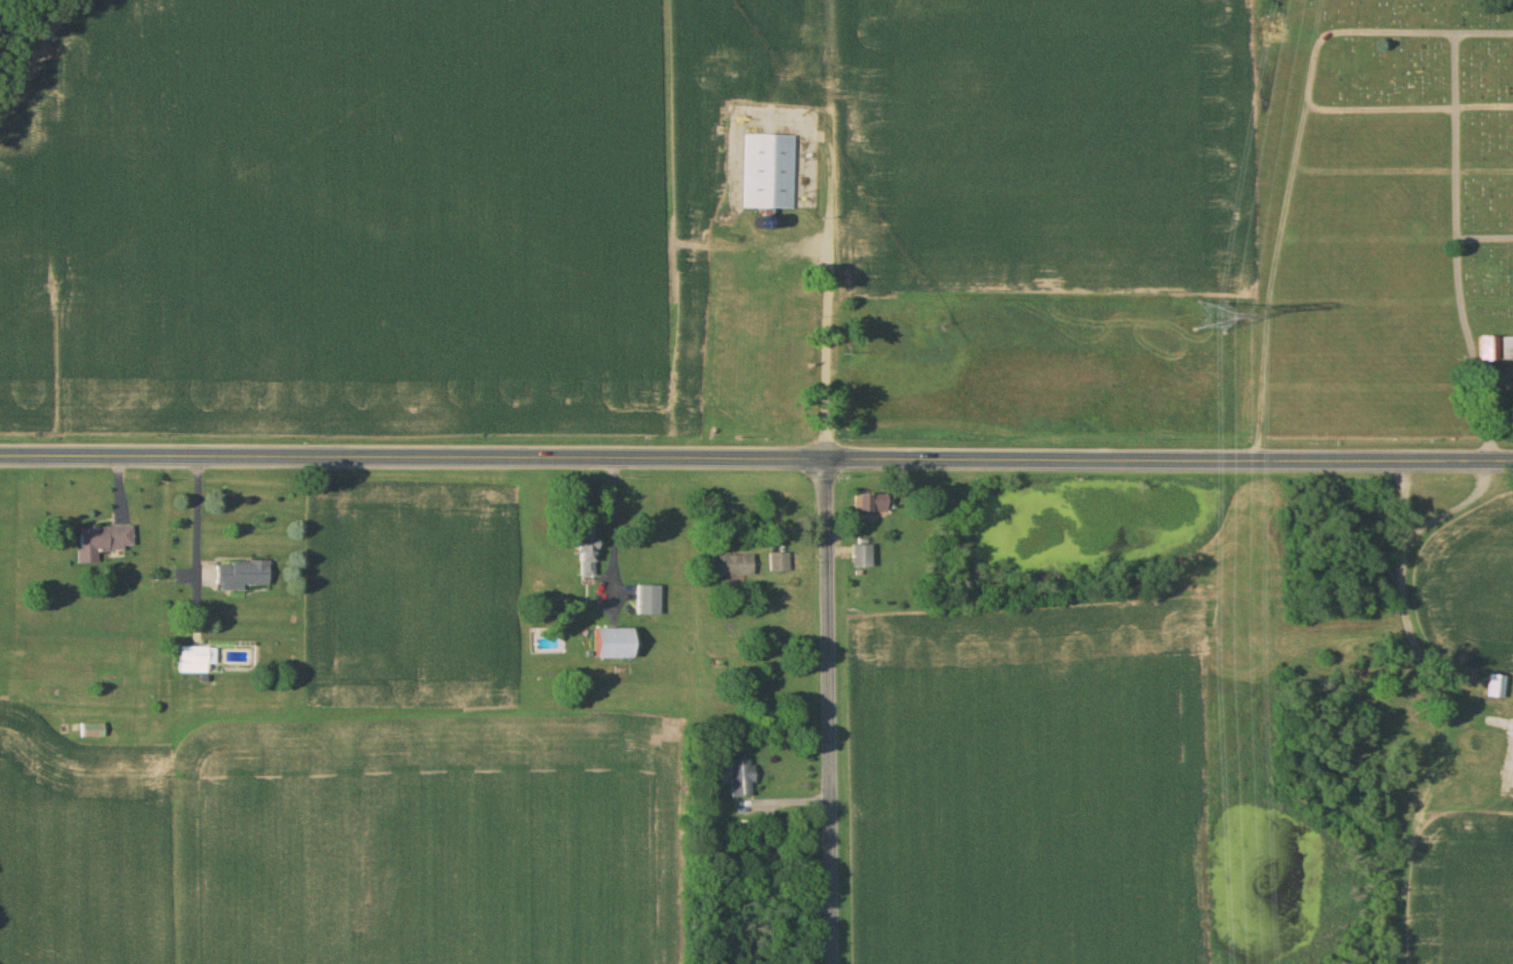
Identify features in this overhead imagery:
building: (768, 173)
park: (1378, 221)
road: (829, 313)
power tower: (1211, 315)
building: (882, 329)
building: (1484, 350)
building: (1506, 350)
road: (413, 457)
road: (1169, 460)
building: (866, 503)
road: (615, 533)
building: (99, 542)
building: (581, 553)
building: (859, 556)
building: (777, 562)
building: (731, 566)
building: (238, 576)
building: (645, 600)
building: (608, 643)
building: (193, 659)
building: (1492, 686)
building: (1388, 689)
road: (828, 711)
building: (90, 730)
building: (738, 778)

